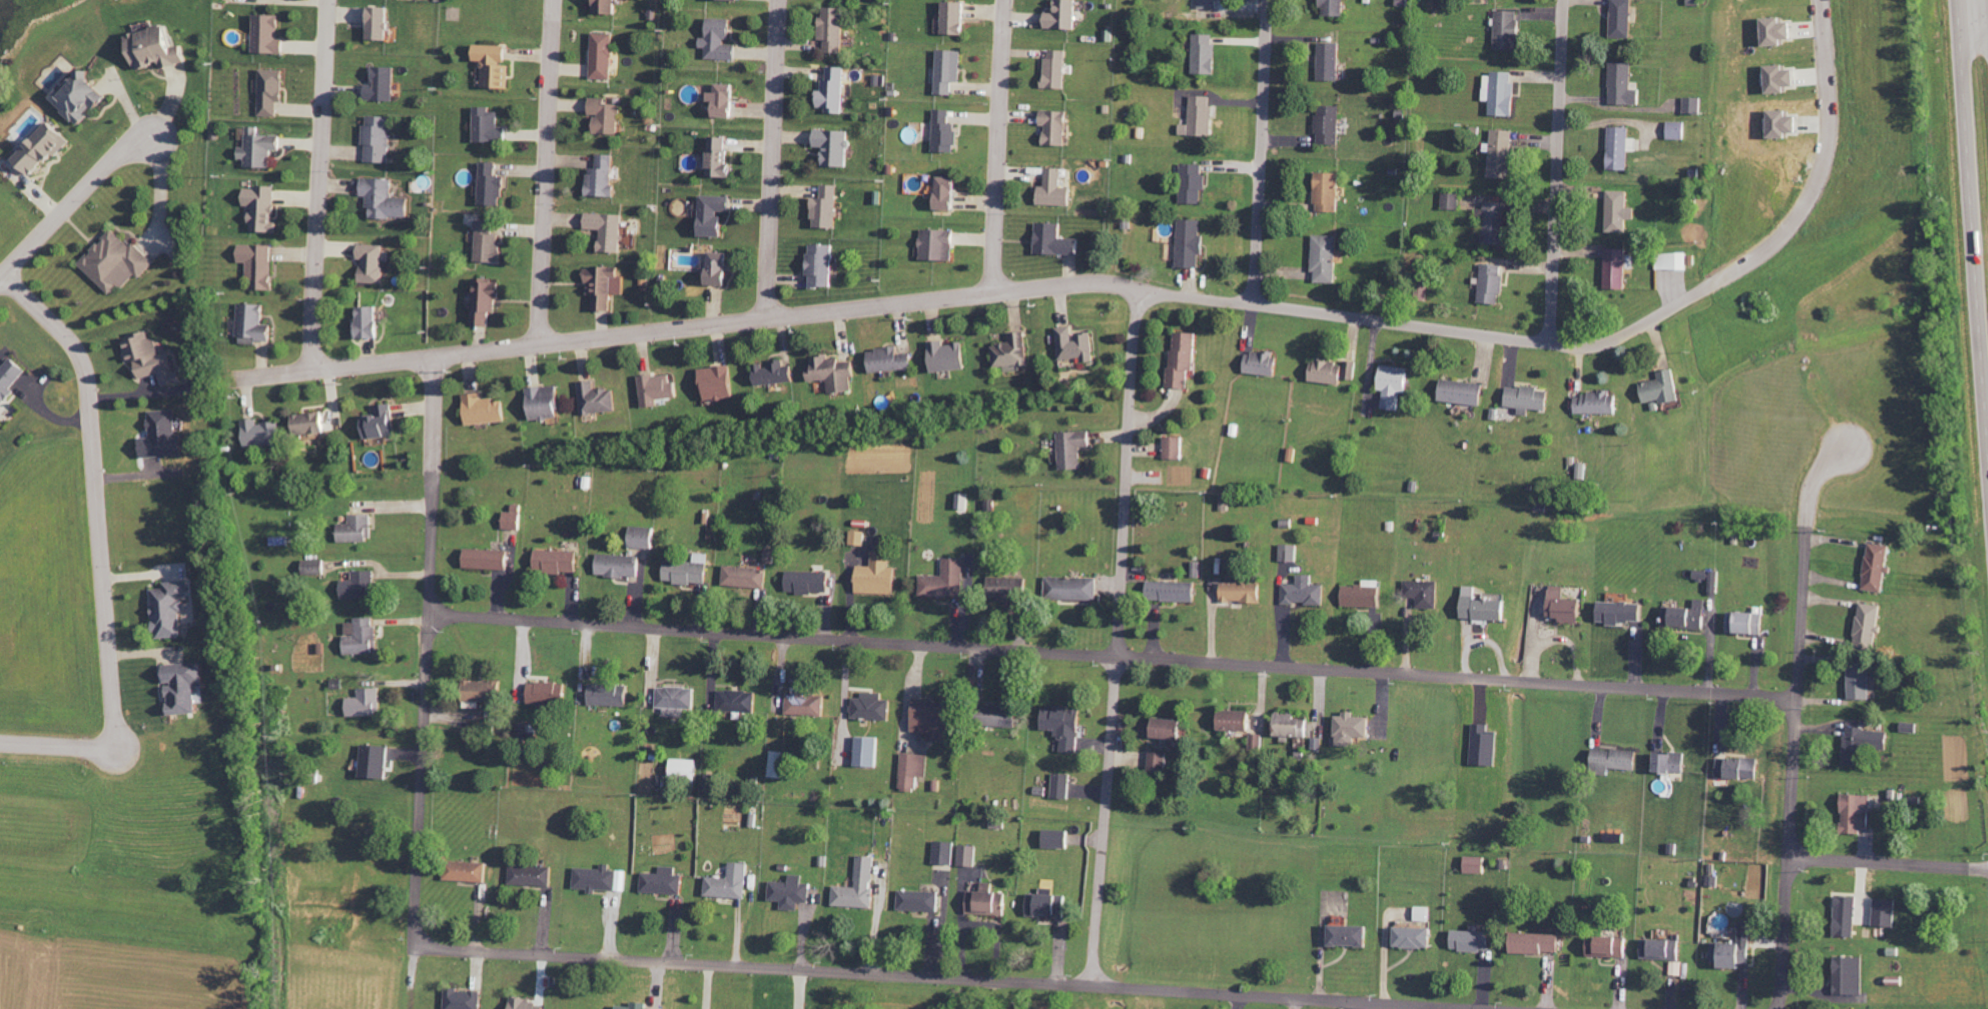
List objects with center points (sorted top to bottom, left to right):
building: (1209, 4)
building: (609, 6)
building: (1335, 7)
building: (1065, 16)
building: (958, 18)
building: (1623, 18)
building: (381, 23)
building: (835, 29)
building: (1509, 30)
building: (1782, 31)
road: (1973, 31)
building: (269, 34)
building: (722, 40)
building: (158, 45)
building: (1206, 54)
building: (605, 55)
building: (1331, 61)
building: (496, 65)
building: (1059, 69)
building: (951, 70)
building: (1782, 78)
building: (382, 84)
building: (1624, 85)
building: (272, 91)
building: (835, 91)
building: (1502, 92)
building: (83, 97)
building: (727, 100)
building: (1694, 106)
building: (608, 116)
building: (1202, 117)
building: (1330, 125)
building: (489, 126)
building: (1058, 127)
building: (1678, 130)
building: (947, 132)
building: (379, 139)
road: (997, 146)
building: (835, 147)
building: (260, 148)
building: (1623, 148)
building: (44, 149)
road: (1259, 152)
building: (1503, 154)
building: (721, 157)
road: (770, 159)
road: (544, 172)
road: (1555, 172)
building: (603, 178)
building: (1195, 183)
road: (163, 185)
road: (317, 185)
building: (493, 185)
building: (1057, 190)
building: (1330, 192)
building: (950, 193)
road: (74, 195)
building: (386, 199)
building: (1452, 201)
building: (263, 208)
building: (828, 208)
building: (1621, 211)
building: (716, 215)
building: (1494, 223)
road: (1971, 229)
building: (609, 230)
building: (489, 241)
building: (1057, 241)
building: (1192, 244)
building: (939, 245)
building: (1328, 258)
building: (1674, 261)
building: (117, 262)
building: (373, 263)
building: (261, 266)
building: (822, 266)
building: (721, 268)
building: (1619, 269)
building: (1493, 281)
building: (606, 286)
road: (1146, 292)
building: (486, 300)
building: (372, 322)
building: (256, 325)
building: (1078, 345)
building: (1014, 353)
building: (950, 356)
building: (1185, 359)
building: (154, 360)
building: (892, 360)
building: (1264, 364)
building: (1333, 372)
building: (775, 373)
building: (835, 374)
building: (10, 381)
building: (719, 383)
building: (1396, 385)
building: (659, 389)
building: (1662, 389)
building: (1465, 392)
building: (598, 399)
building: (1531, 399)
building: (546, 403)
building: (1599, 403)
building: (485, 410)
road: (432, 420)
building: (383, 423)
building: (314, 424)
building: (265, 434)
building: (165, 436)
building: (1175, 448)
building: (1074, 449)
building: (964, 501)
building: (514, 520)
building: (358, 529)
building: (643, 537)
building: (859, 538)
road: (100, 553)
building: (1290, 553)
building: (770, 556)
building: (489, 559)
building: (559, 562)
building: (622, 566)
building: (316, 567)
building: (1878, 567)
building: (689, 571)
building: (880, 576)
building: (747, 577)
building: (946, 581)
building: (810, 582)
building: (362, 586)
building: (1009, 589)
building: (1074, 589)
building: (1175, 591)
building: (1243, 591)
building: (1305, 592)
building: (1365, 594)
building: (1425, 595)
building: (1485, 607)
building: (1567, 607)
building: (174, 609)
building: (1625, 613)
building: (1691, 616)
building: (1748, 623)
building: (1869, 626)
building: (363, 637)
road: (1117, 638)
road: (1112, 655)
building: (1862, 683)
building: (188, 687)
building: (484, 693)
building: (550, 694)
building: (611, 695)
building: (678, 700)
building: (739, 701)
building: (368, 703)
building: (806, 704)
building: (873, 707)
road: (1795, 709)
road: (423, 716)
building: (1005, 717)
building: (936, 720)
building: (1239, 720)
building: (1066, 726)
building: (1295, 726)
building: (1171, 729)
building: (1354, 731)
building: (1259, 741)
building: (1865, 744)
building: (870, 752)
building: (1617, 760)
building: (378, 762)
building: (1161, 763)
building: (1672, 763)
building: (779, 765)
building: (1740, 768)
building: (687, 770)
building: (914, 771)
building: (1063, 786)
building: (1857, 813)
building: (1058, 839)
building: (945, 853)
building: (969, 856)
road: (1887, 864)
building: (1476, 865)
building: (468, 872)
building: (533, 876)
building: (602, 880)
building: (731, 883)
building: (664, 884)
building: (860, 886)
building: (793, 893)
building: (920, 901)
building: (989, 902)
building: (1049, 906)
building: (1886, 912)
building: (1424, 913)
building: (1849, 916)
building: (1349, 935)
building: (1416, 936)
building: (1472, 940)
building: (1538, 942)
building: (1609, 946)
building: (1662, 948)
building: (1736, 948)
building: (1851, 975)
road: (939, 976)
building: (465, 1000)
building: (527, 1004)

